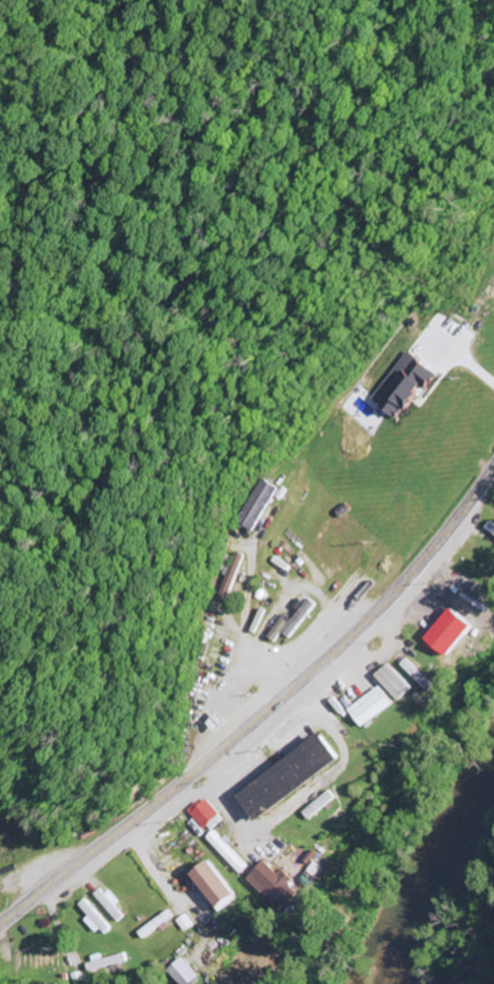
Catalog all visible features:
building: (396, 385)
building: (251, 505)
building: (489, 529)
building: (316, 563)
building: (224, 578)
building: (287, 623)
building: (444, 633)
building: (368, 708)
road: (263, 712)
building: (283, 778)
building: (199, 813)
building: (225, 853)
river: (441, 877)
building: (272, 883)
building: (209, 887)
building: (109, 904)
building: (92, 918)
building: (105, 962)
building: (181, 973)

